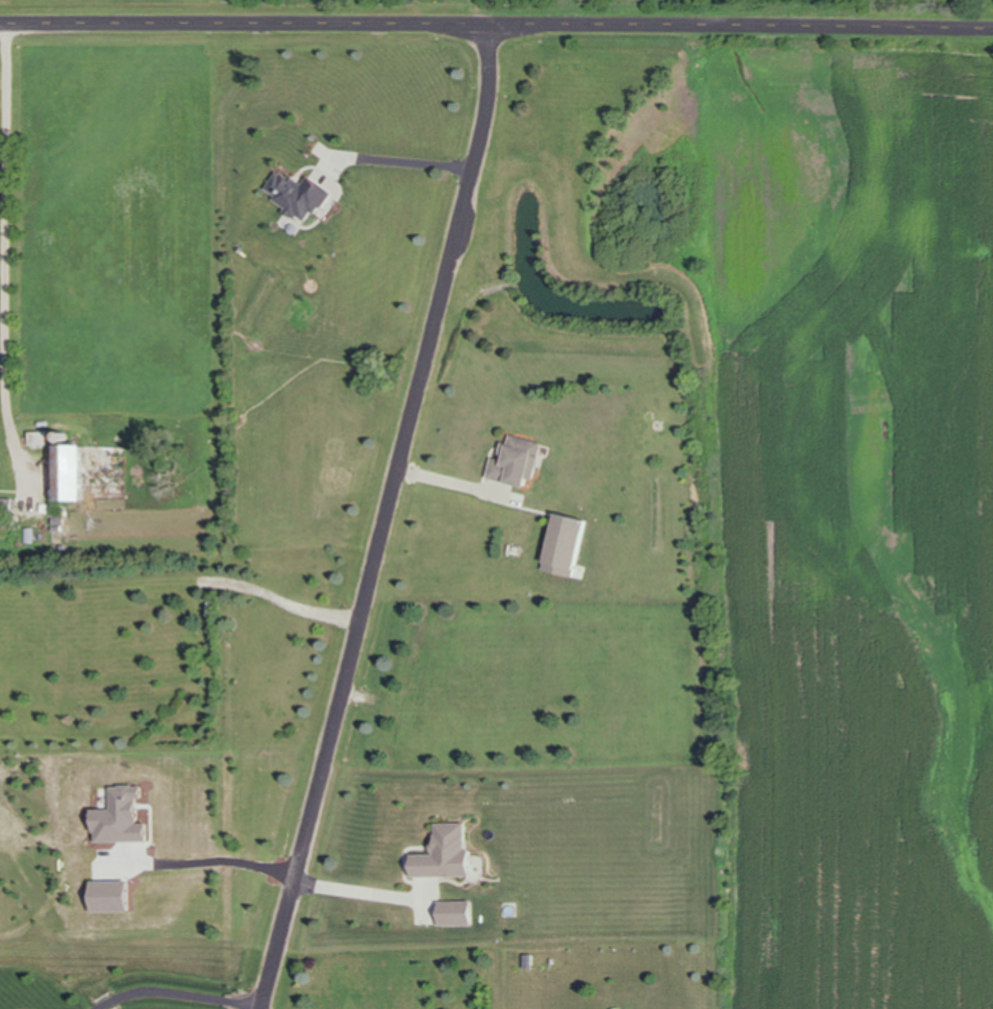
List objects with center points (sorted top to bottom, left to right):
road: (496, 30)
road: (399, 162)
road: (7, 235)
building: (519, 463)
building: (80, 473)
road: (452, 484)
building: (0, 487)
building: (8, 508)
road: (383, 521)
road: (285, 603)
road: (205, 864)
road: (355, 889)
road: (174, 992)

